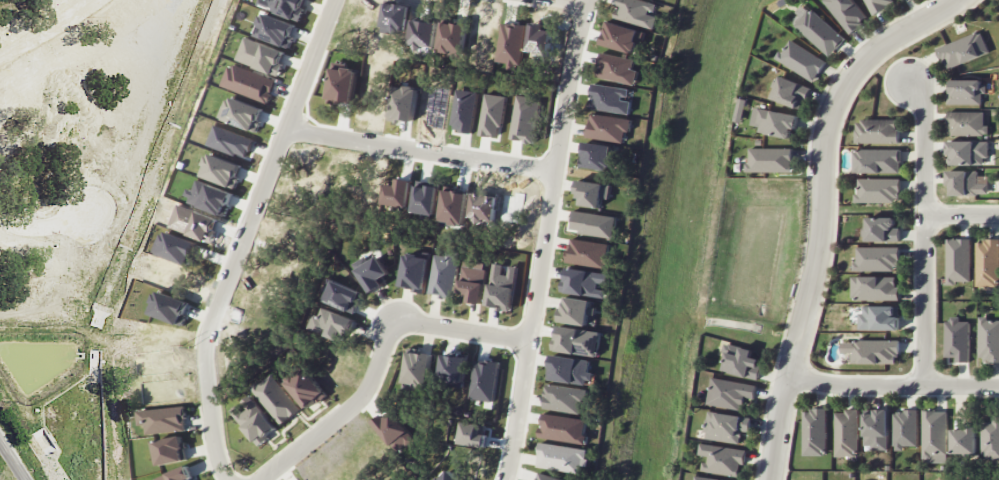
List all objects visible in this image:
road: (576, 3)
building: (877, 5)
road: (912, 8)
building: (637, 12)
building: (847, 13)
road: (47, 30)
building: (817, 30)
building: (962, 50)
building: (801, 60)
building: (617, 68)
building: (966, 91)
building: (791, 92)
building: (609, 98)
building: (741, 110)
building: (775, 122)
building: (967, 123)
building: (608, 127)
building: (876, 131)
road: (420, 148)
building: (967, 152)
building: (597, 156)
building: (770, 159)
building: (876, 160)
road: (835, 170)
building: (966, 182)
building: (877, 190)
building: (592, 193)
road: (820, 210)
road: (961, 216)
building: (594, 224)
road: (48, 227)
building: (882, 229)
road: (923, 232)
road: (806, 233)
road: (243, 237)
road: (545, 239)
building: (589, 253)
building: (877, 258)
building: (958, 260)
building: (987, 262)
building: (415, 271)
building: (371, 272)
building: (444, 275)
building: (584, 282)
building: (473, 283)
building: (501, 287)
building: (875, 288)
building: (344, 296)
building: (573, 310)
building: (880, 317)
building: (331, 324)
road: (462, 329)
building: (957, 339)
building: (576, 340)
building: (989, 340)
building: (870, 352)
building: (741, 361)
building: (417, 369)
building: (453, 369)
building: (569, 369)
road: (806, 378)
building: (484, 380)
road: (893, 386)
building: (307, 388)
building: (730, 393)
building: (564, 398)
building: (278, 399)
road: (344, 411)
road: (792, 412)
building: (164, 419)
building: (257, 422)
building: (726, 426)
building: (563, 428)
building: (876, 429)
building: (905, 429)
building: (394, 430)
building: (814, 432)
building: (846, 433)
building: (934, 436)
building: (990, 439)
building: (963, 440)
building: (170, 450)
building: (562, 458)
building: (722, 459)
road: (13, 460)
building: (177, 475)
building: (447, 476)
building: (545, 477)
building: (706, 478)

